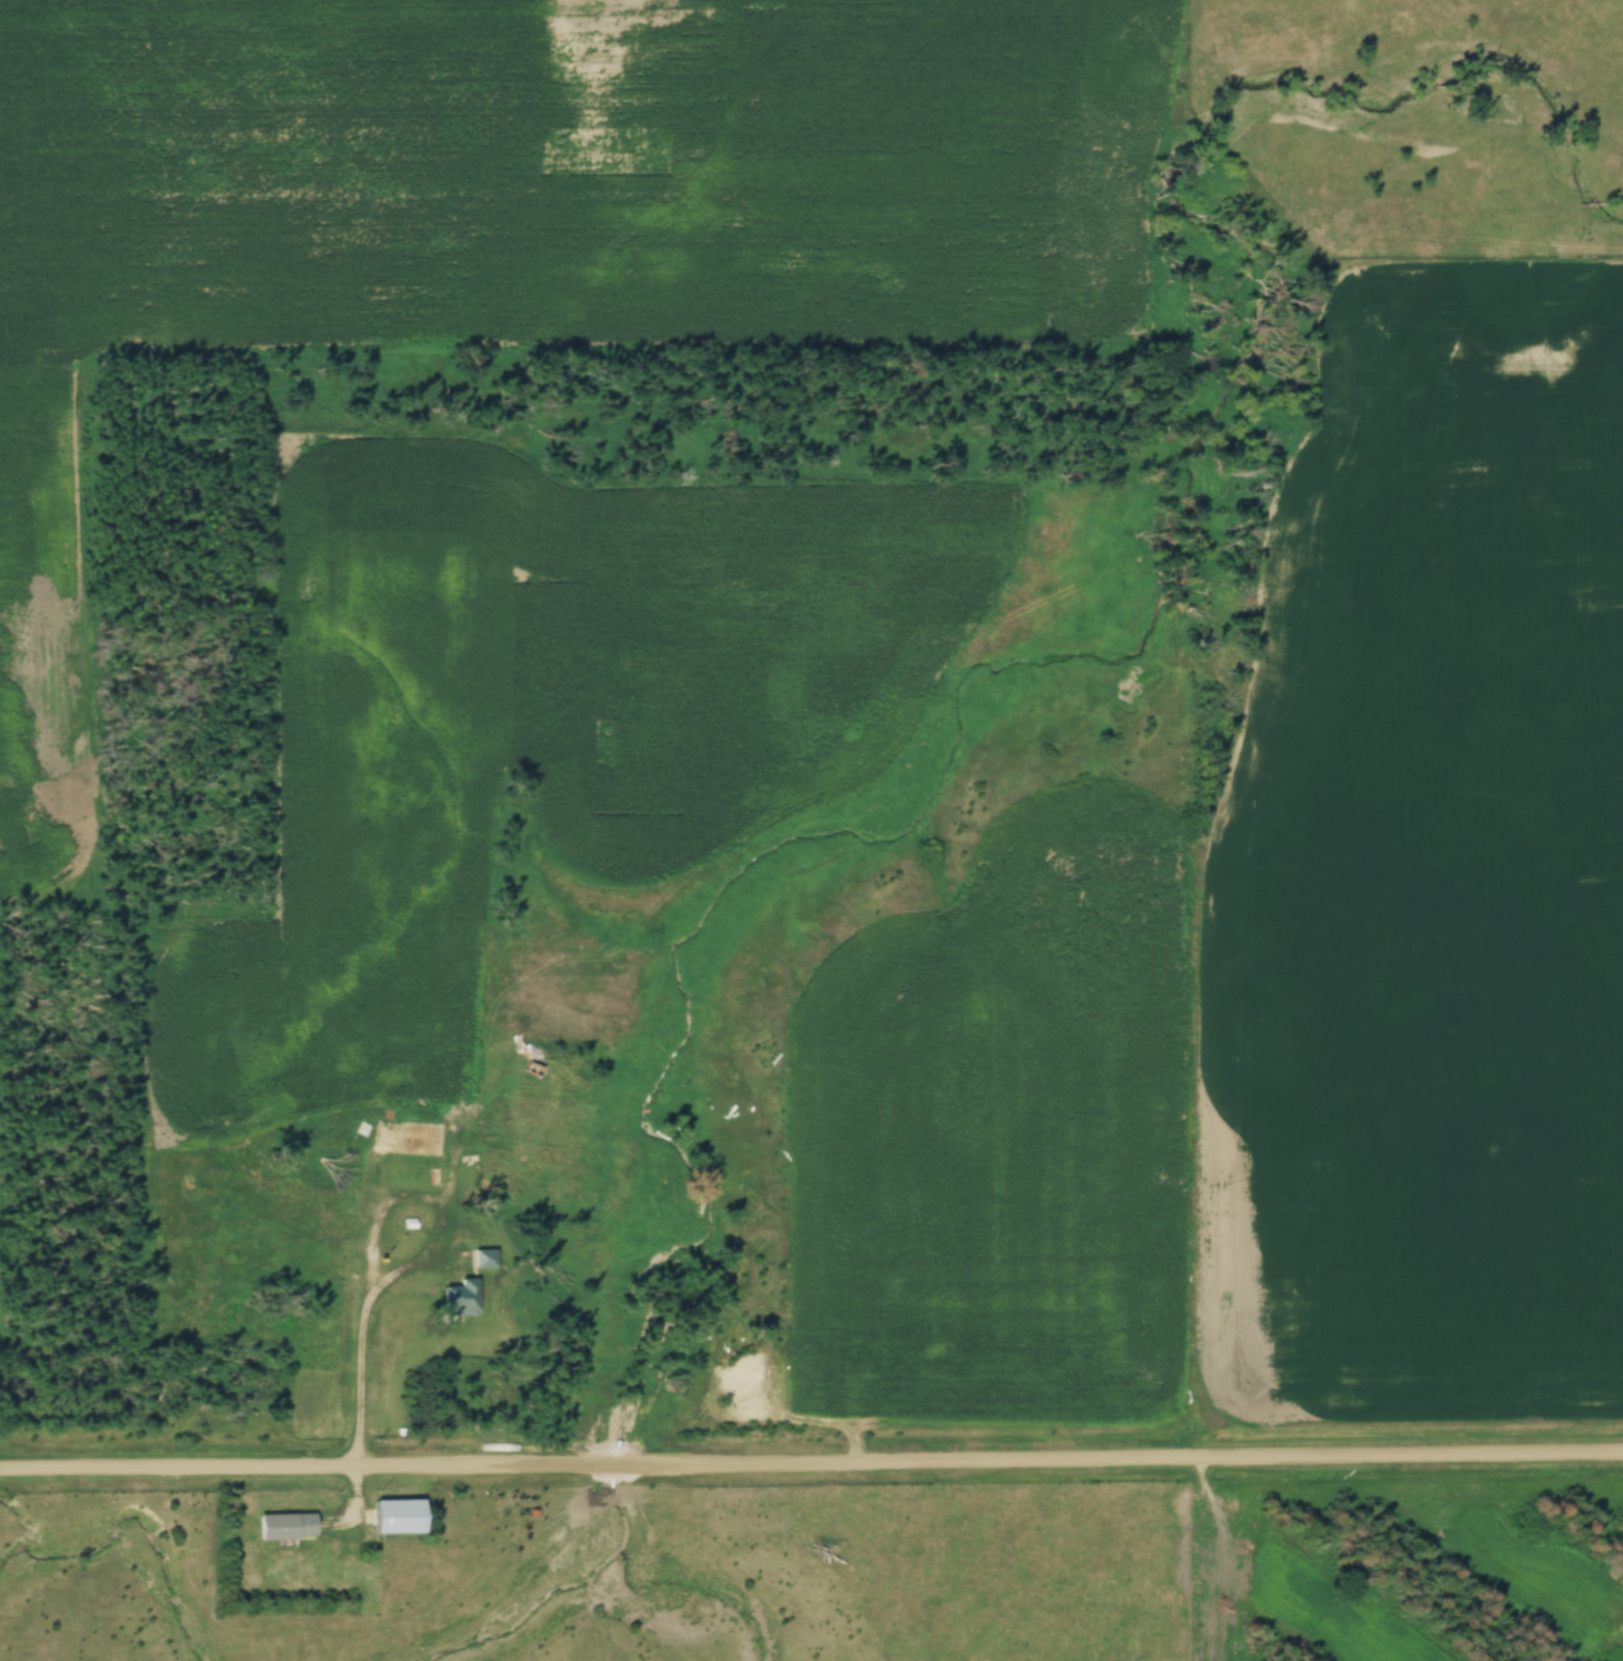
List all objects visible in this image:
building: (405, 1137)
building: (483, 1259)
building: (459, 1298)
road: (811, 1461)
building: (395, 1516)
building: (284, 1526)

